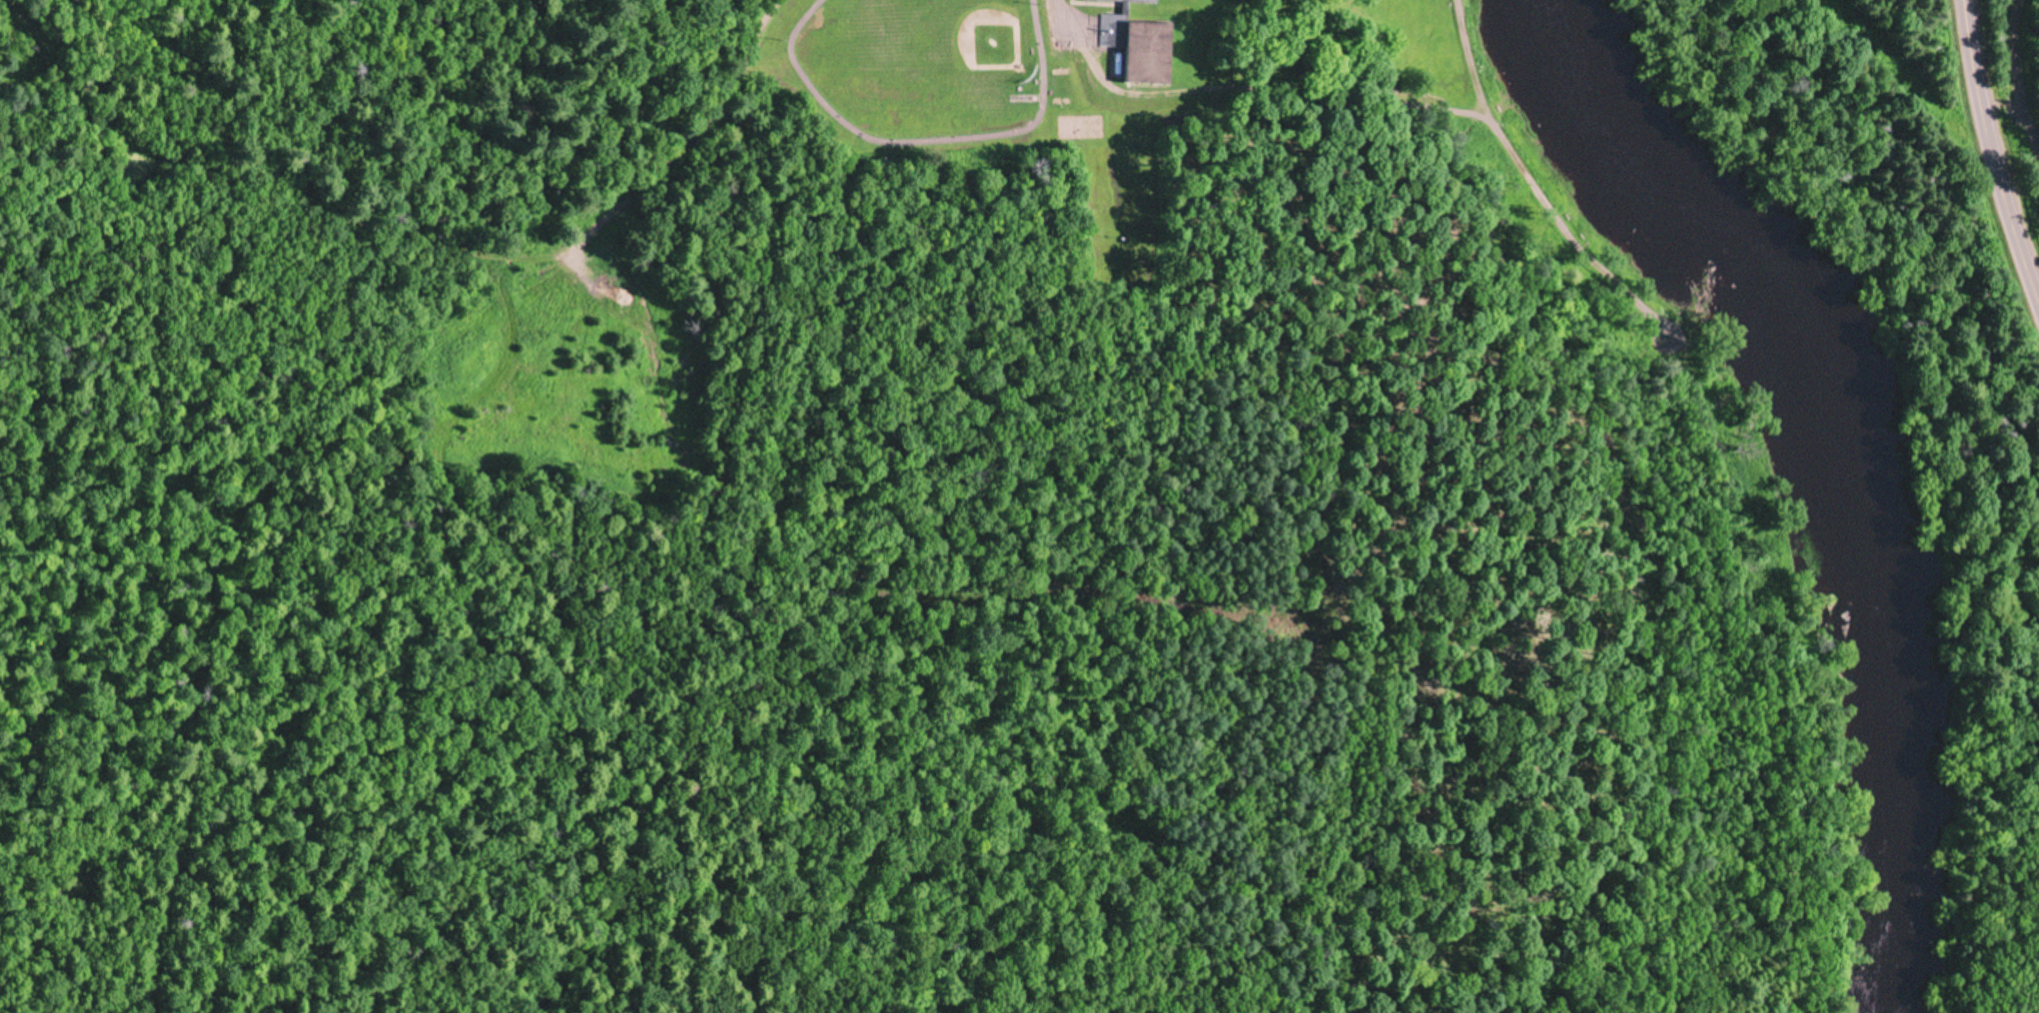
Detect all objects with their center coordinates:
building: (1129, 1)
park: (984, 35)
building: (1140, 48)
road: (1994, 154)
road: (591, 217)
river: (1851, 468)

